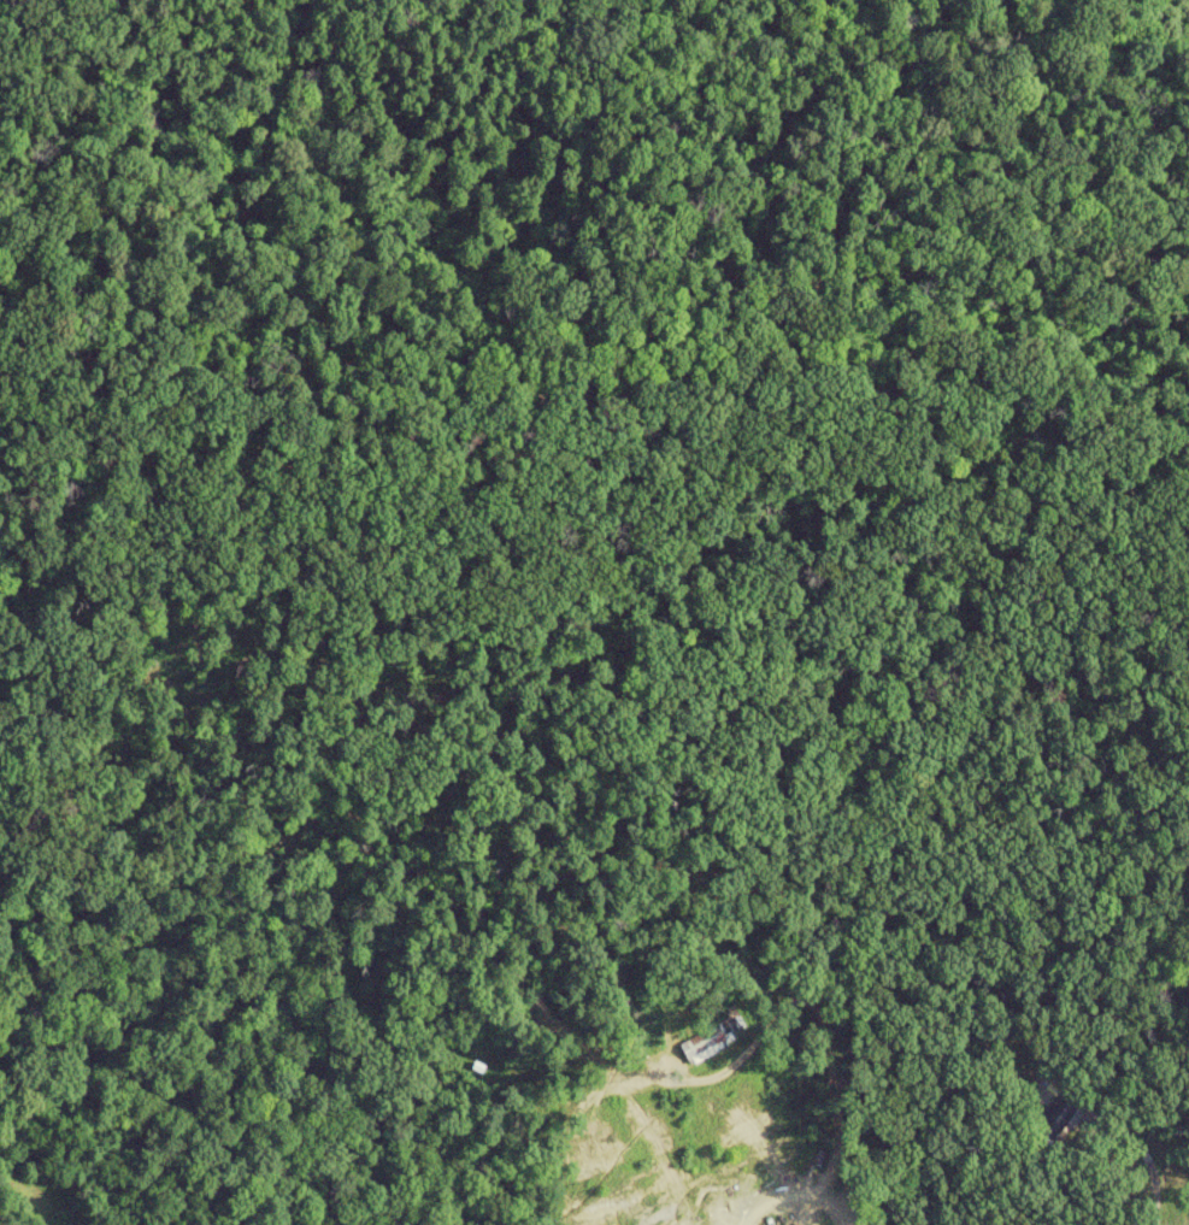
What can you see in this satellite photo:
building: (701, 1047)
building: (1053, 1117)
road: (1143, 1155)

